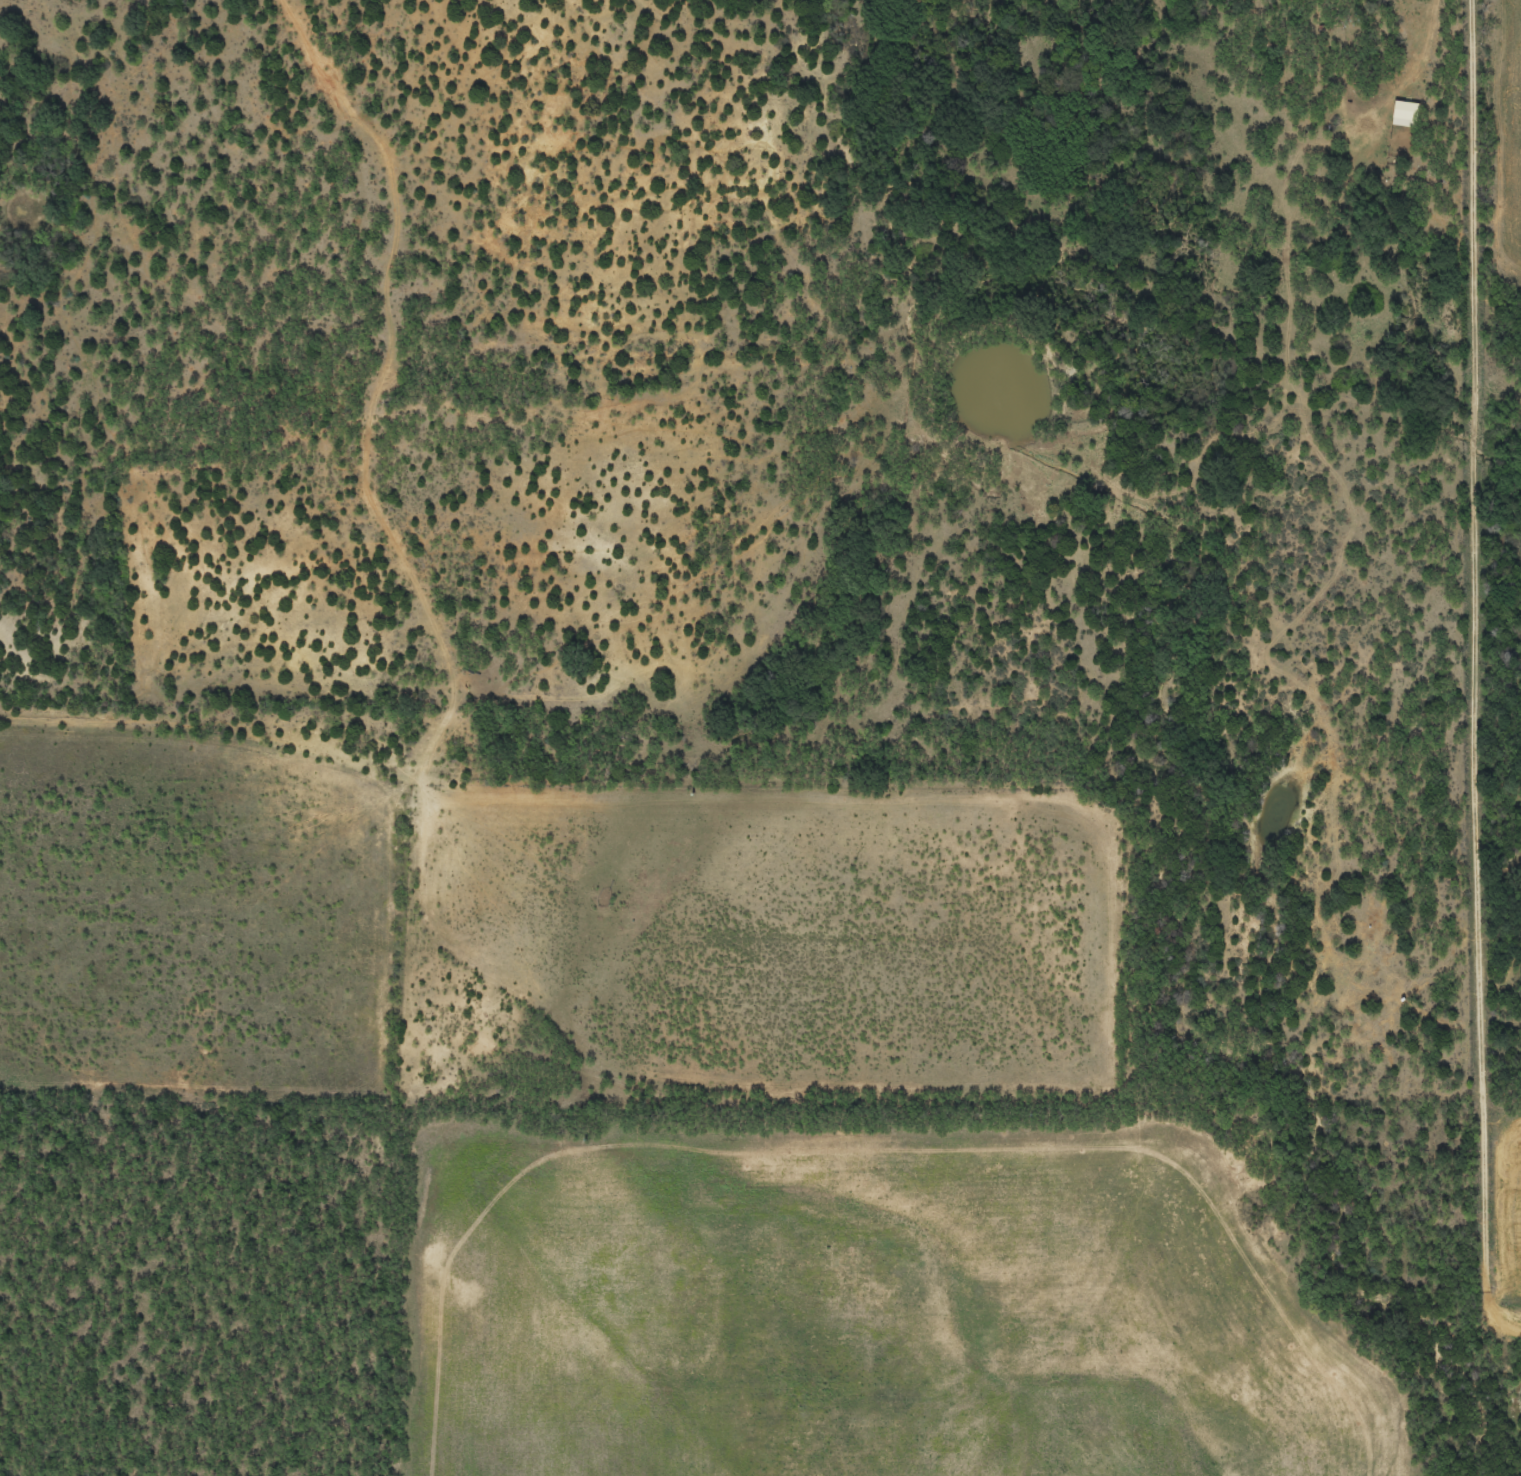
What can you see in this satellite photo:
road: (1476, 675)

